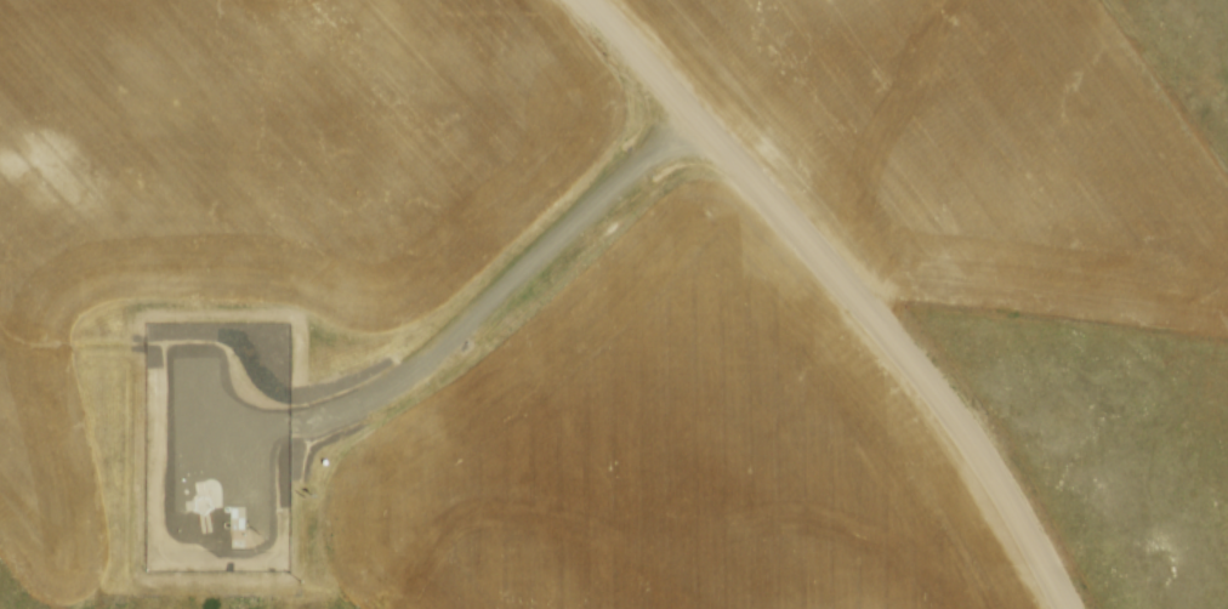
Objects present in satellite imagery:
crop: (976, 146)
crop: (260, 186)
road: (846, 288)
road: (474, 321)
crop: (667, 451)

